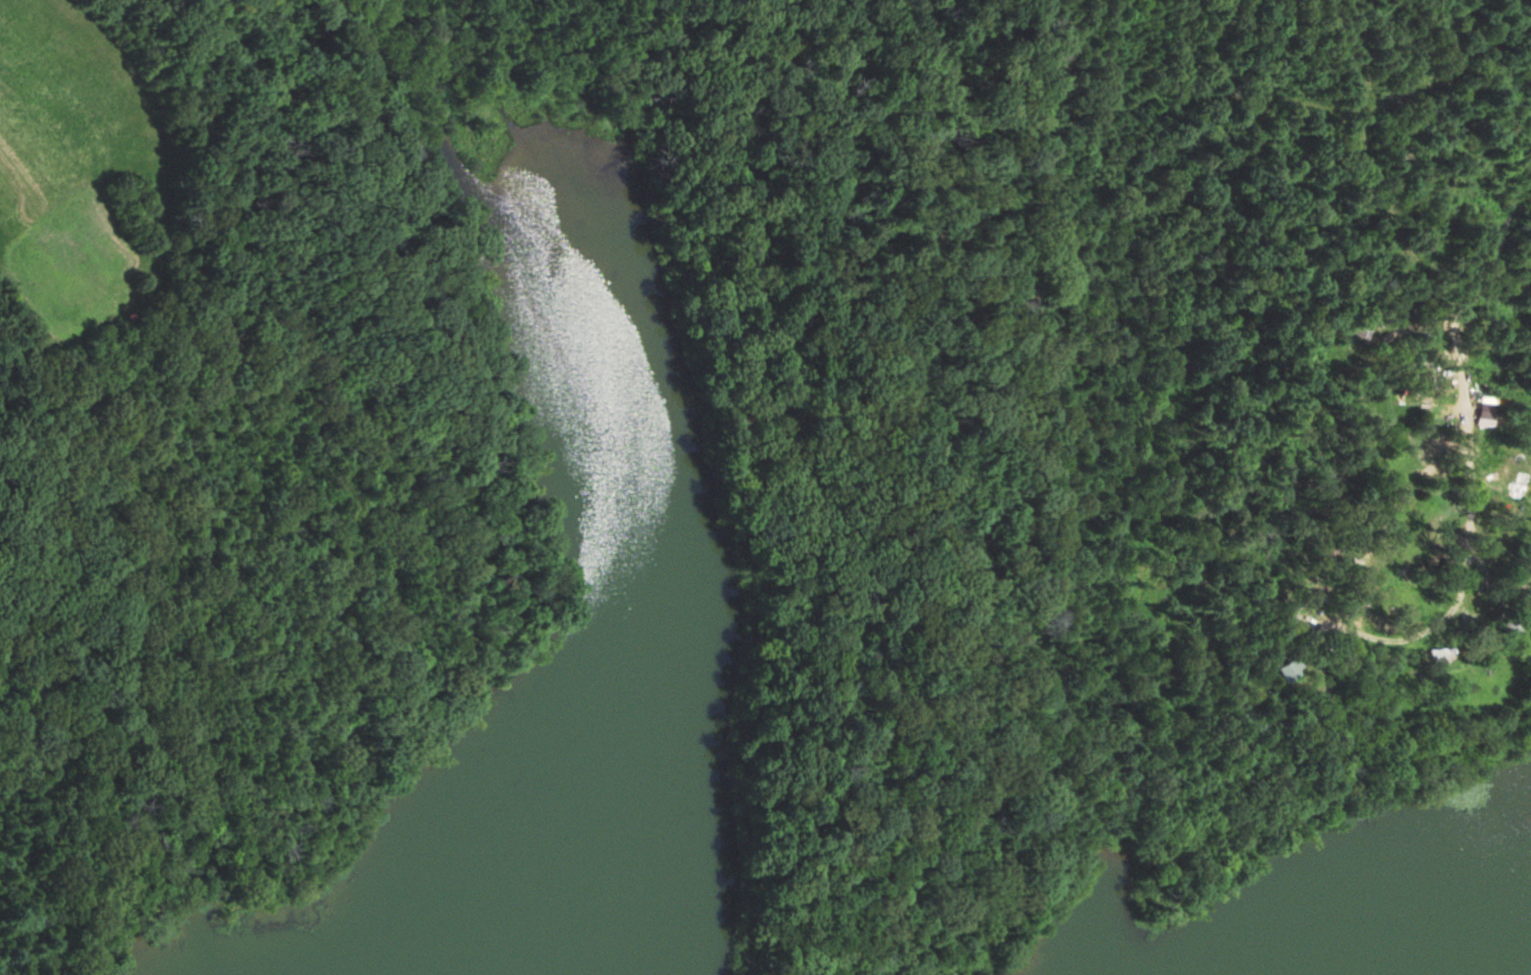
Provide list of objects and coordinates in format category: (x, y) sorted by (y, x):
road: (1449, 325)
building: (1484, 413)
building: (1292, 670)

